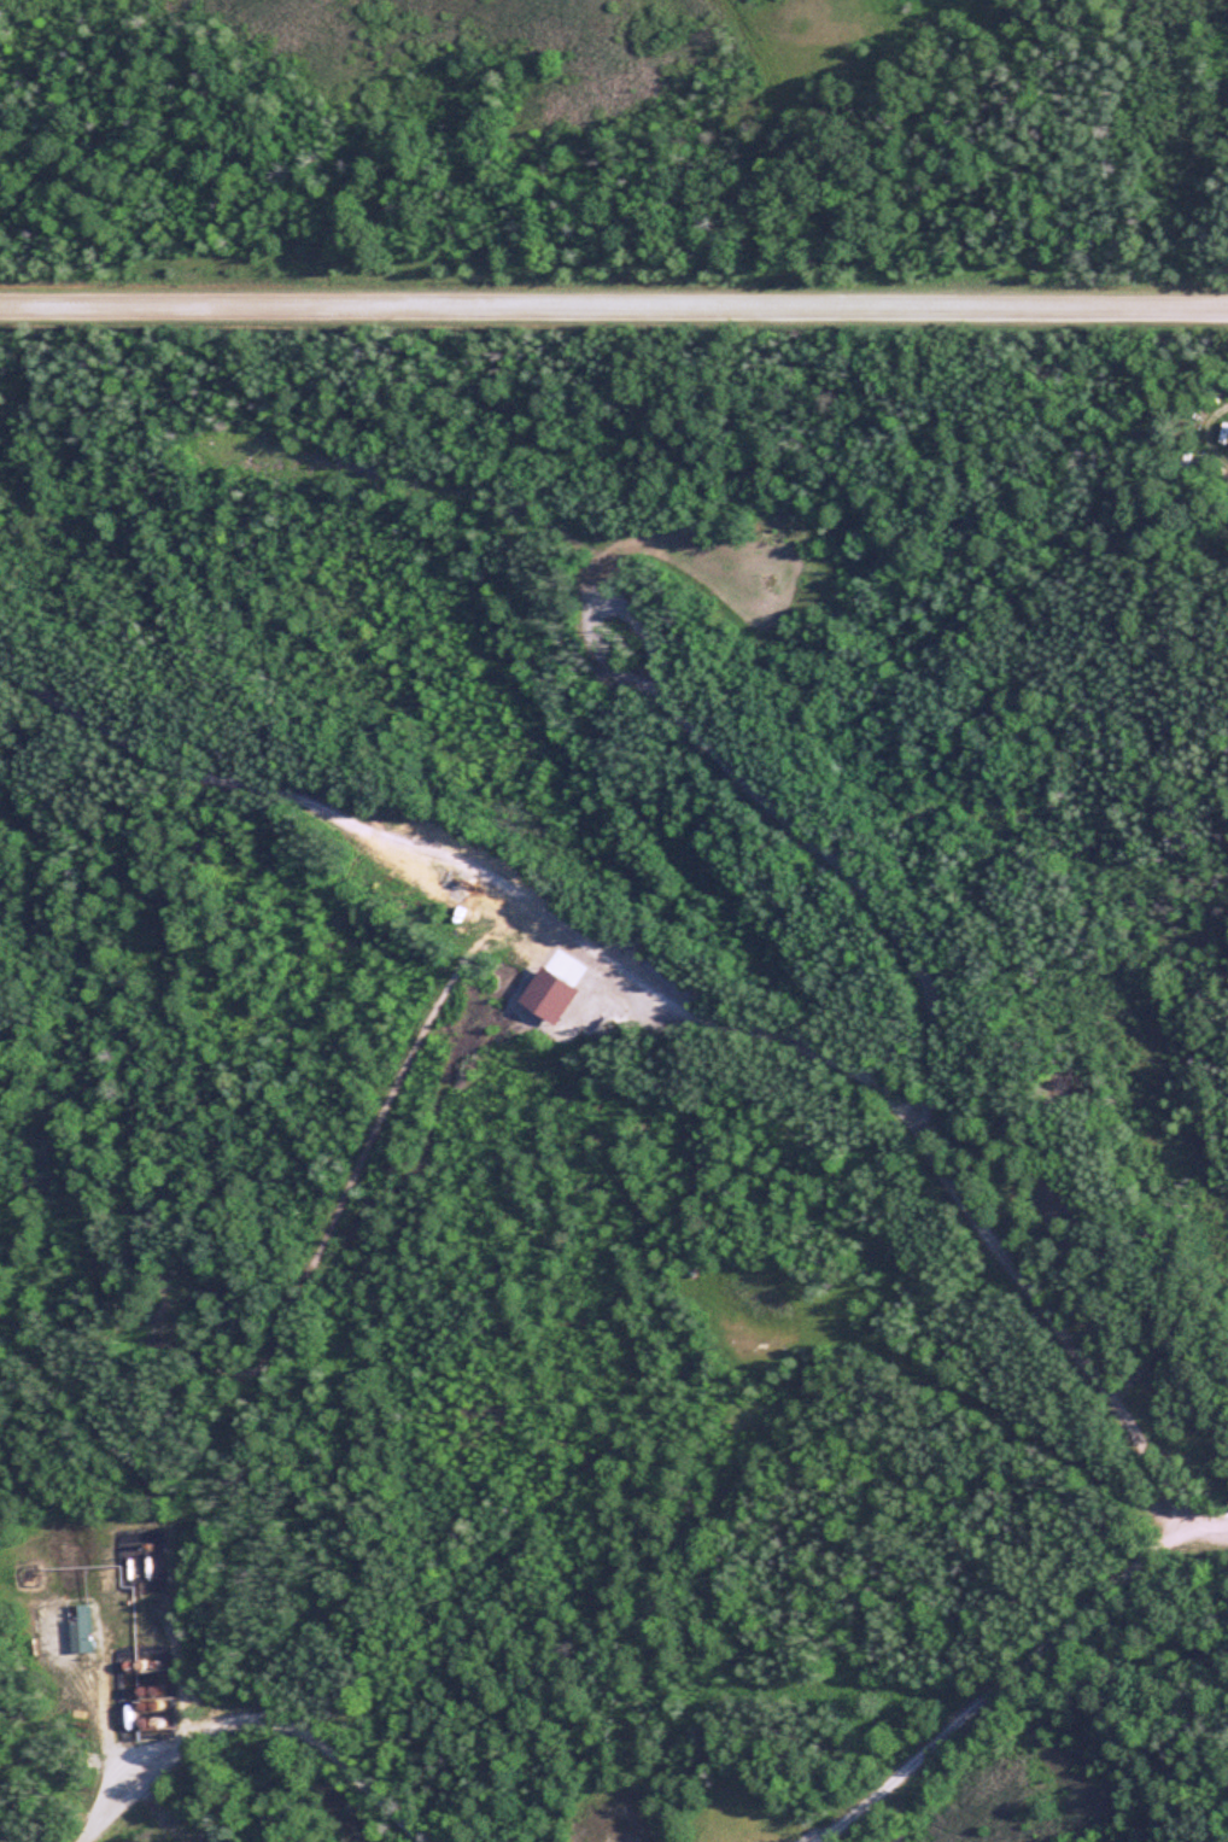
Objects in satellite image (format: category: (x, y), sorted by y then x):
road: (613, 309)
petroleum well: (469, 887)
road: (679, 988)
building: (77, 1630)
road: (1016, 1671)
road: (252, 1731)

